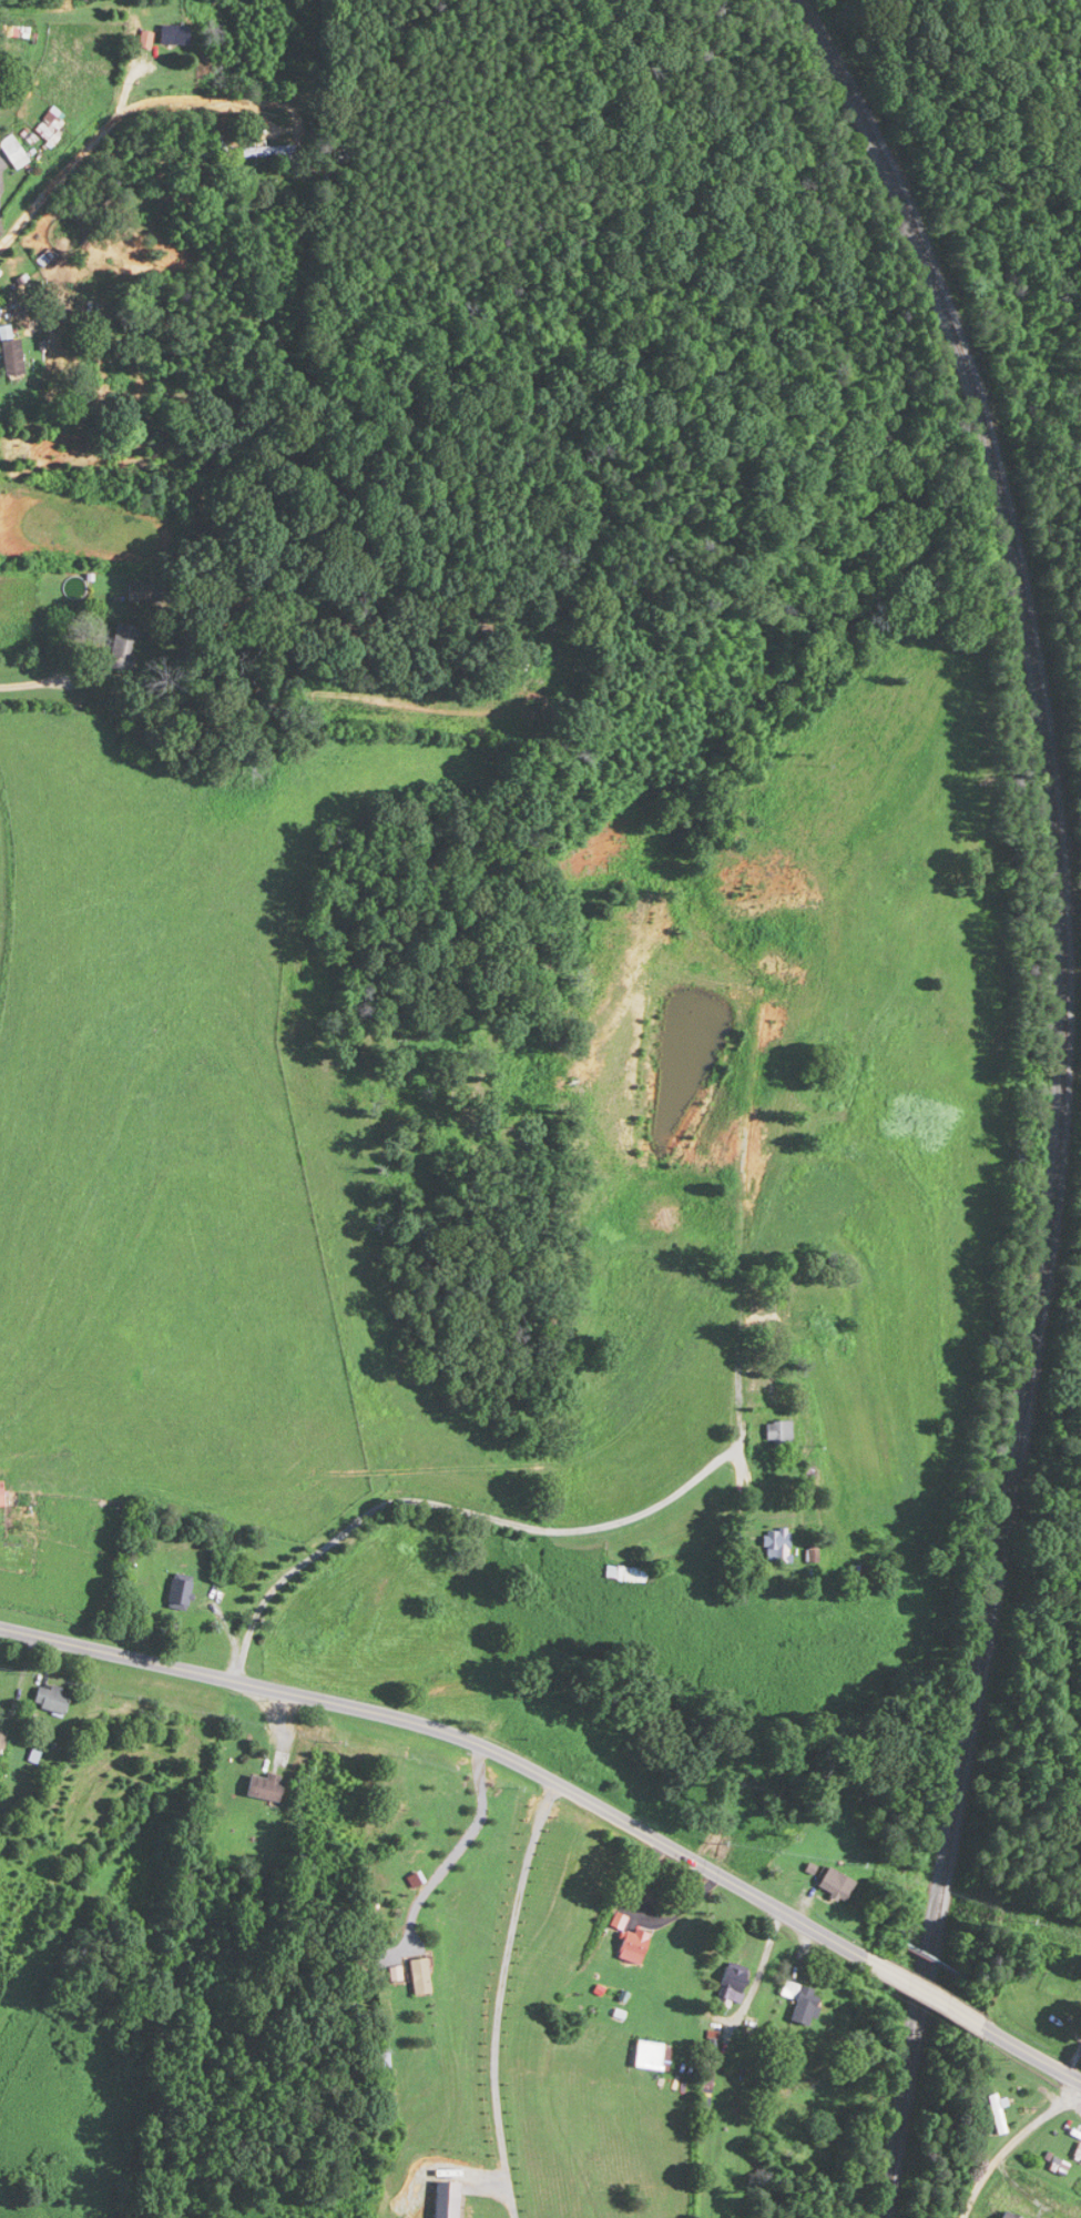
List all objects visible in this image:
building: (49, 126)
road: (106, 129)
building: (13, 151)
building: (267, 151)
building: (10, 354)
building: (139, 590)
building: (122, 645)
road: (49, 679)
building: (264, 703)
railway: (1060, 1093)
building: (828, 1108)
building: (777, 1431)
building: (1, 1498)
road: (502, 1520)
building: (781, 1545)
building: (813, 1556)
building: (630, 1573)
building: (181, 1591)
building: (297, 1611)
building: (51, 1700)
road: (456, 1733)
building: (1, 1742)
building: (265, 1787)
road: (459, 1845)
building: (838, 1886)
building: (635, 1946)
road: (759, 1969)
building: (421, 1976)
building: (733, 1984)
road: (924, 1992)
road: (500, 1996)
building: (800, 2002)
road: (1031, 2052)
building: (651, 2055)
building: (383, 2062)
building: (711, 2067)
building: (999, 2114)
road: (1013, 2144)
building: (1079, 2151)
building: (1059, 2167)
building: (1010, 2215)

